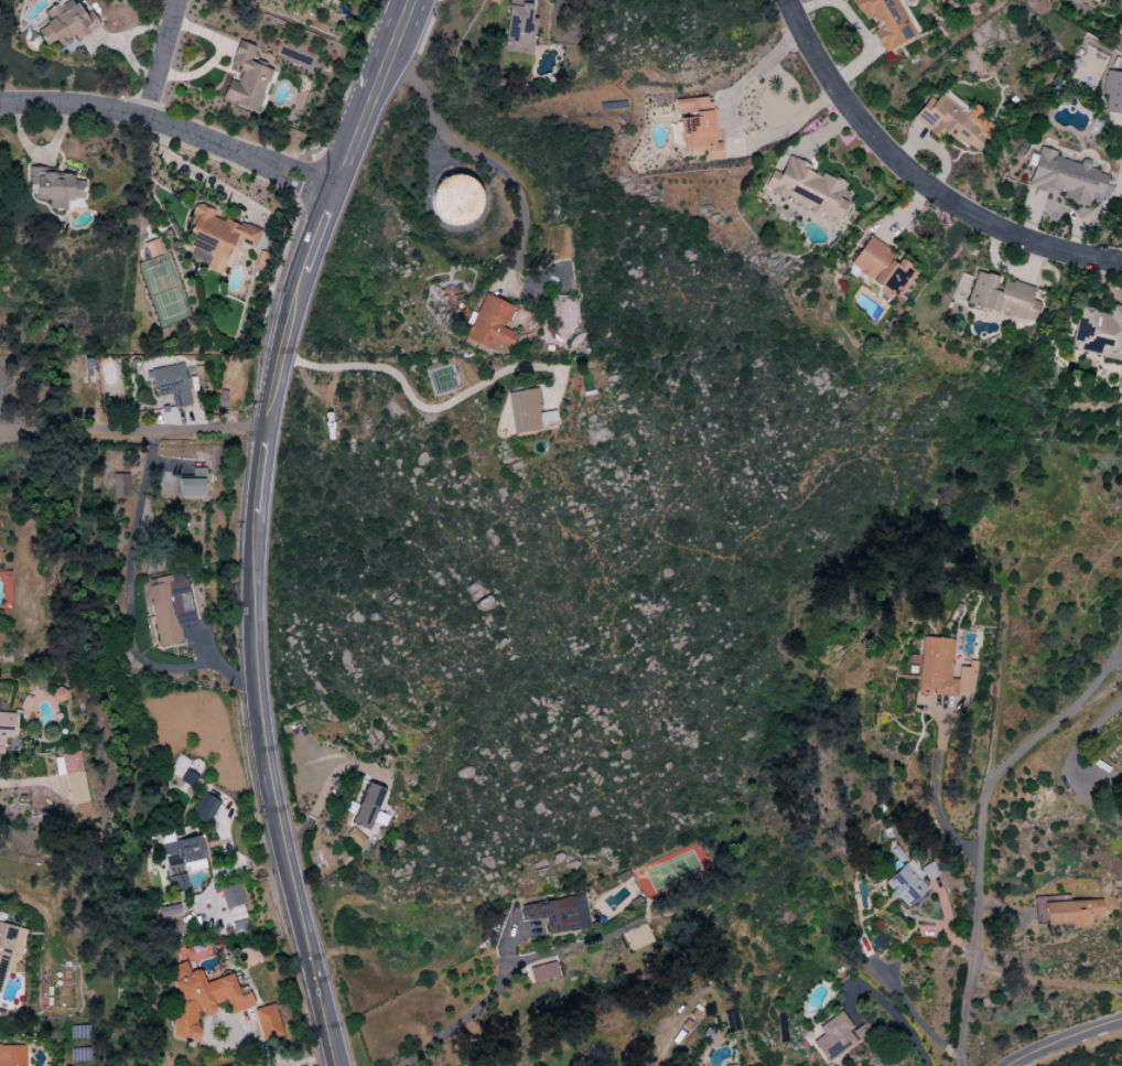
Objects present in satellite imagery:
building: (884, 21)
building: (65, 22)
road: (855, 26)
building: (517, 28)
road: (160, 58)
building: (245, 78)
building: (1111, 93)
road: (358, 95)
road: (379, 98)
building: (952, 121)
road: (171, 127)
building: (695, 127)
road: (724, 132)
road: (471, 153)
building: (1064, 177)
road: (917, 180)
building: (53, 186)
building: (454, 200)
building: (218, 236)
building: (150, 248)
building: (881, 269)
road: (301, 273)
building: (1001, 297)
building: (489, 325)
building: (1098, 333)
building: (1119, 380)
building: (171, 384)
road: (418, 408)
building: (527, 411)
road: (131, 431)
road: (149, 449)
building: (191, 483)
building: (119, 486)
building: (169, 606)
road: (127, 627)
building: (941, 669)
road: (256, 713)
road: (1056, 719)
building: (6, 726)
road: (1072, 756)
building: (69, 762)
building: (57, 766)
building: (186, 778)
road: (36, 783)
road: (934, 790)
building: (368, 808)
building: (204, 809)
road: (980, 850)
building: (181, 852)
building: (928, 871)
building: (904, 885)
building: (230, 896)
building: (1069, 912)
building: (557, 914)
building: (6, 951)
building: (541, 969)
building: (201, 999)
road: (887, 1008)
road: (470, 1012)
building: (266, 1022)
road: (1059, 1035)
building: (832, 1037)
building: (11, 1055)
road: (277, 1058)

